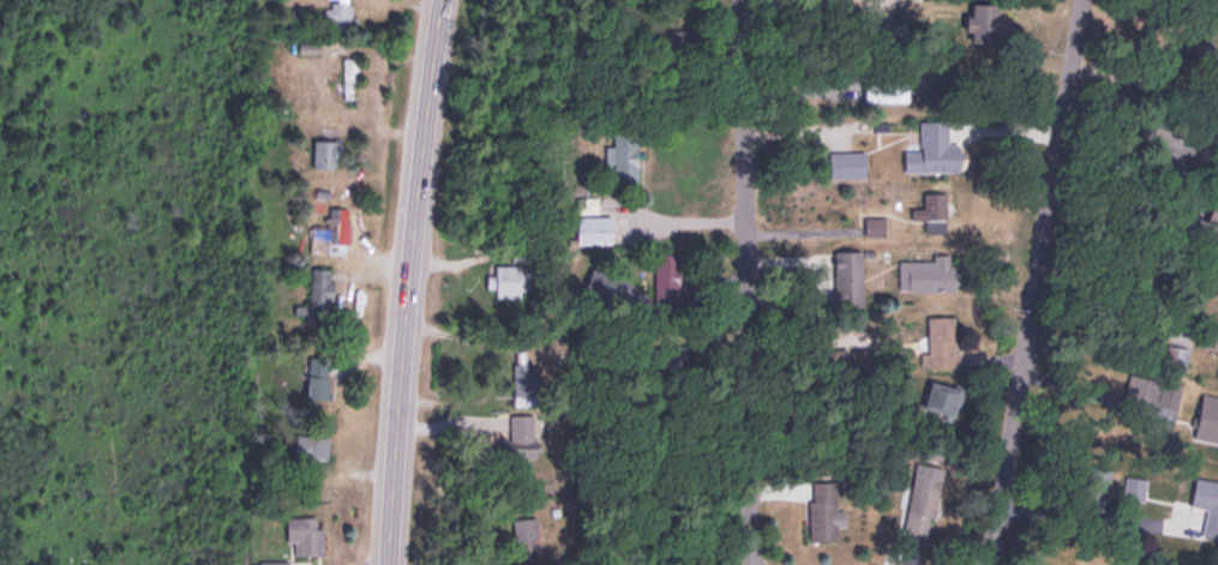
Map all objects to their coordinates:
building: (337, 12)
building: (982, 22)
building: (1200, 53)
building: (348, 76)
road: (1146, 82)
building: (884, 88)
building: (934, 148)
building: (325, 151)
building: (623, 151)
building: (846, 163)
road: (1139, 179)
building: (935, 204)
building: (1213, 210)
building: (875, 224)
building: (593, 228)
building: (330, 229)
building: (924, 272)
building: (666, 275)
building: (505, 277)
building: (848, 277)
road: (408, 281)
road: (749, 282)
road: (1037, 282)
building: (602, 283)
building: (320, 291)
building: (941, 338)
building: (674, 357)
building: (317, 377)
road: (1097, 395)
building: (942, 407)
building: (1207, 417)
building: (521, 426)
building: (311, 445)
building: (922, 501)
building: (1207, 504)
building: (822, 509)
building: (526, 530)
building: (305, 533)
building: (272, 561)

